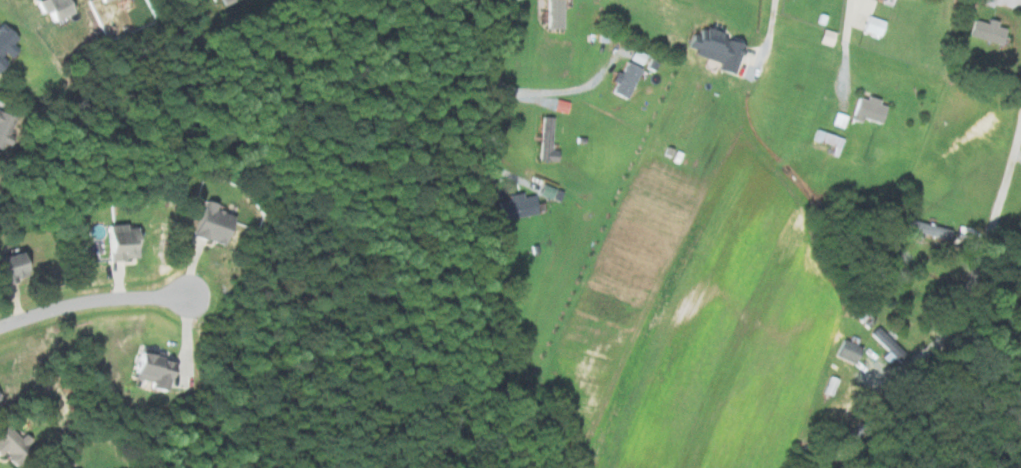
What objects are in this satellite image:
building: (100, 0)
building: (51, 8)
building: (553, 14)
building: (872, 25)
road: (770, 31)
building: (985, 31)
building: (824, 37)
road: (841, 39)
building: (5, 43)
building: (635, 56)
building: (622, 80)
road: (561, 92)
road: (489, 98)
building: (867, 110)
building: (3, 123)
building: (544, 140)
building: (515, 206)
building: (209, 224)
building: (926, 229)
building: (116, 242)
road: (983, 245)
building: (11, 267)
road: (93, 301)
building: (885, 342)
building: (846, 351)
building: (147, 369)
building: (10, 443)

